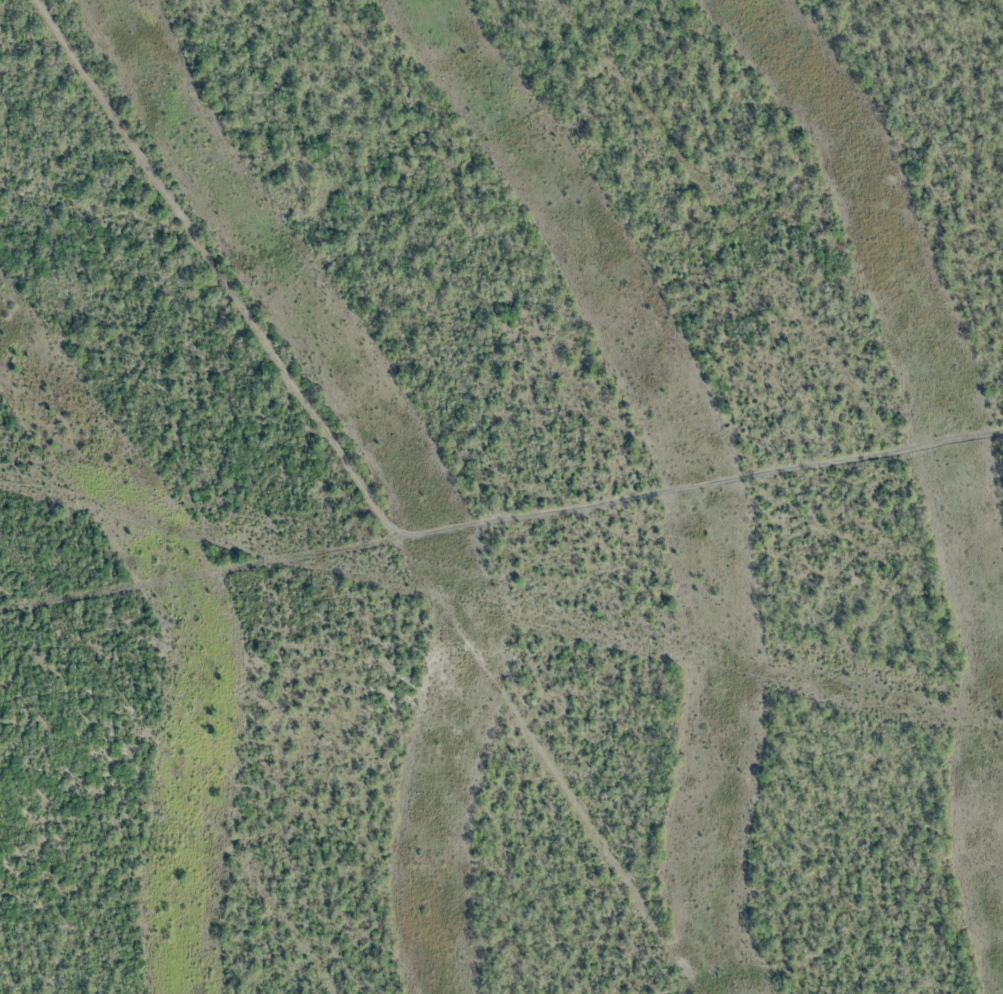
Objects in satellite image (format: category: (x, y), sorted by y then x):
road: (619, 373)

